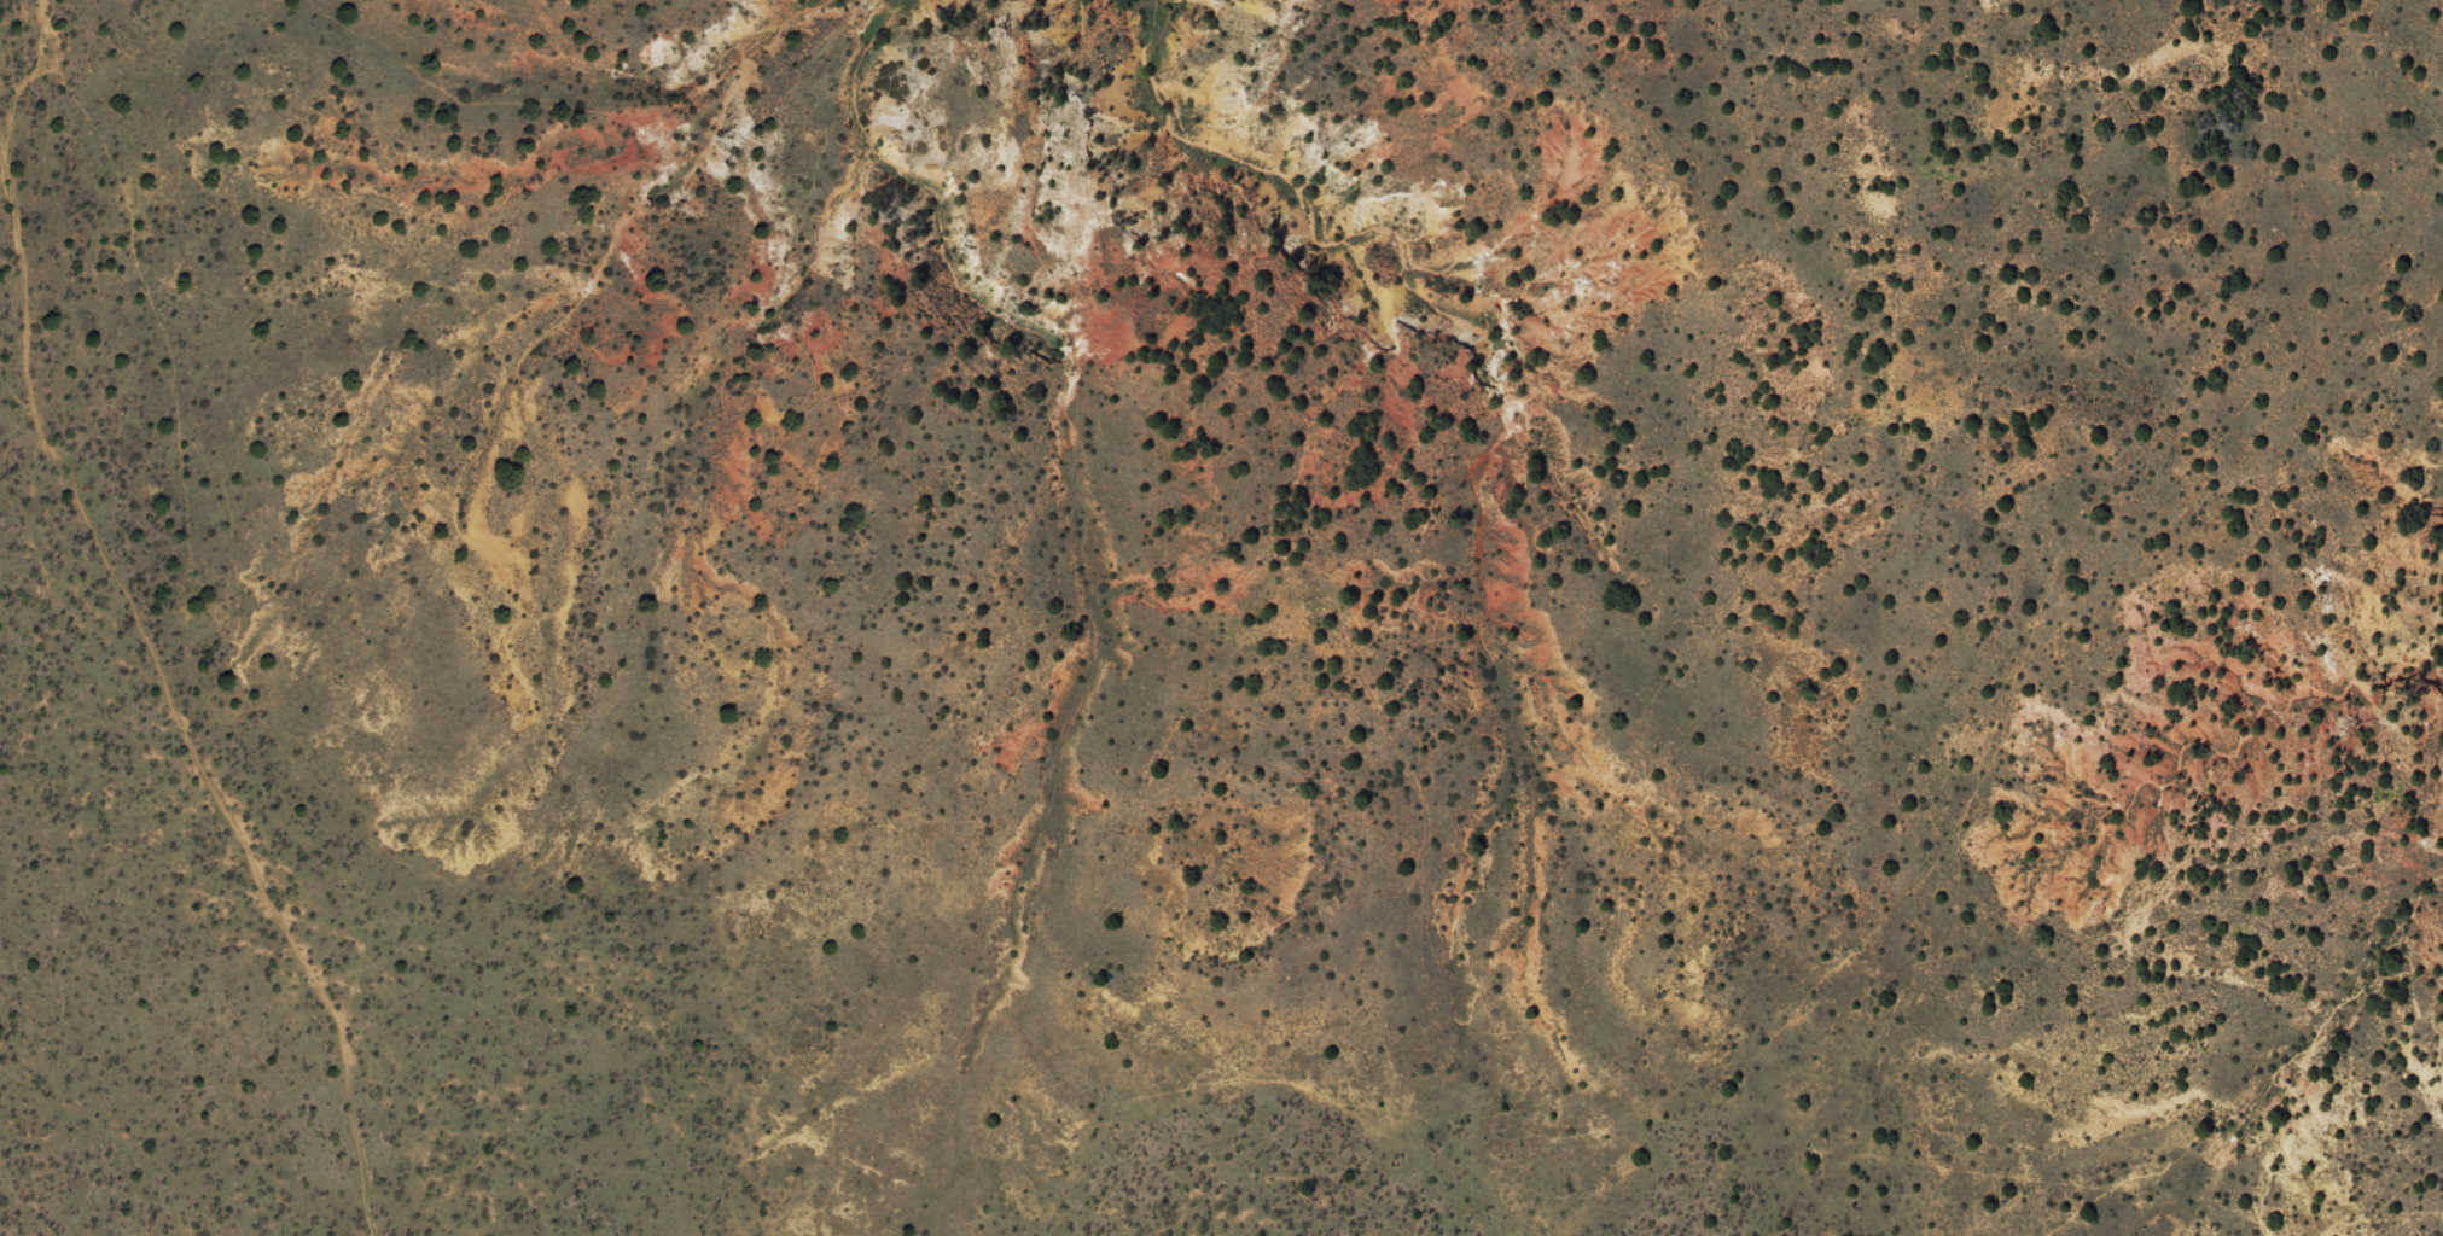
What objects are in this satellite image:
road: (1, 39)
road: (215, 788)

